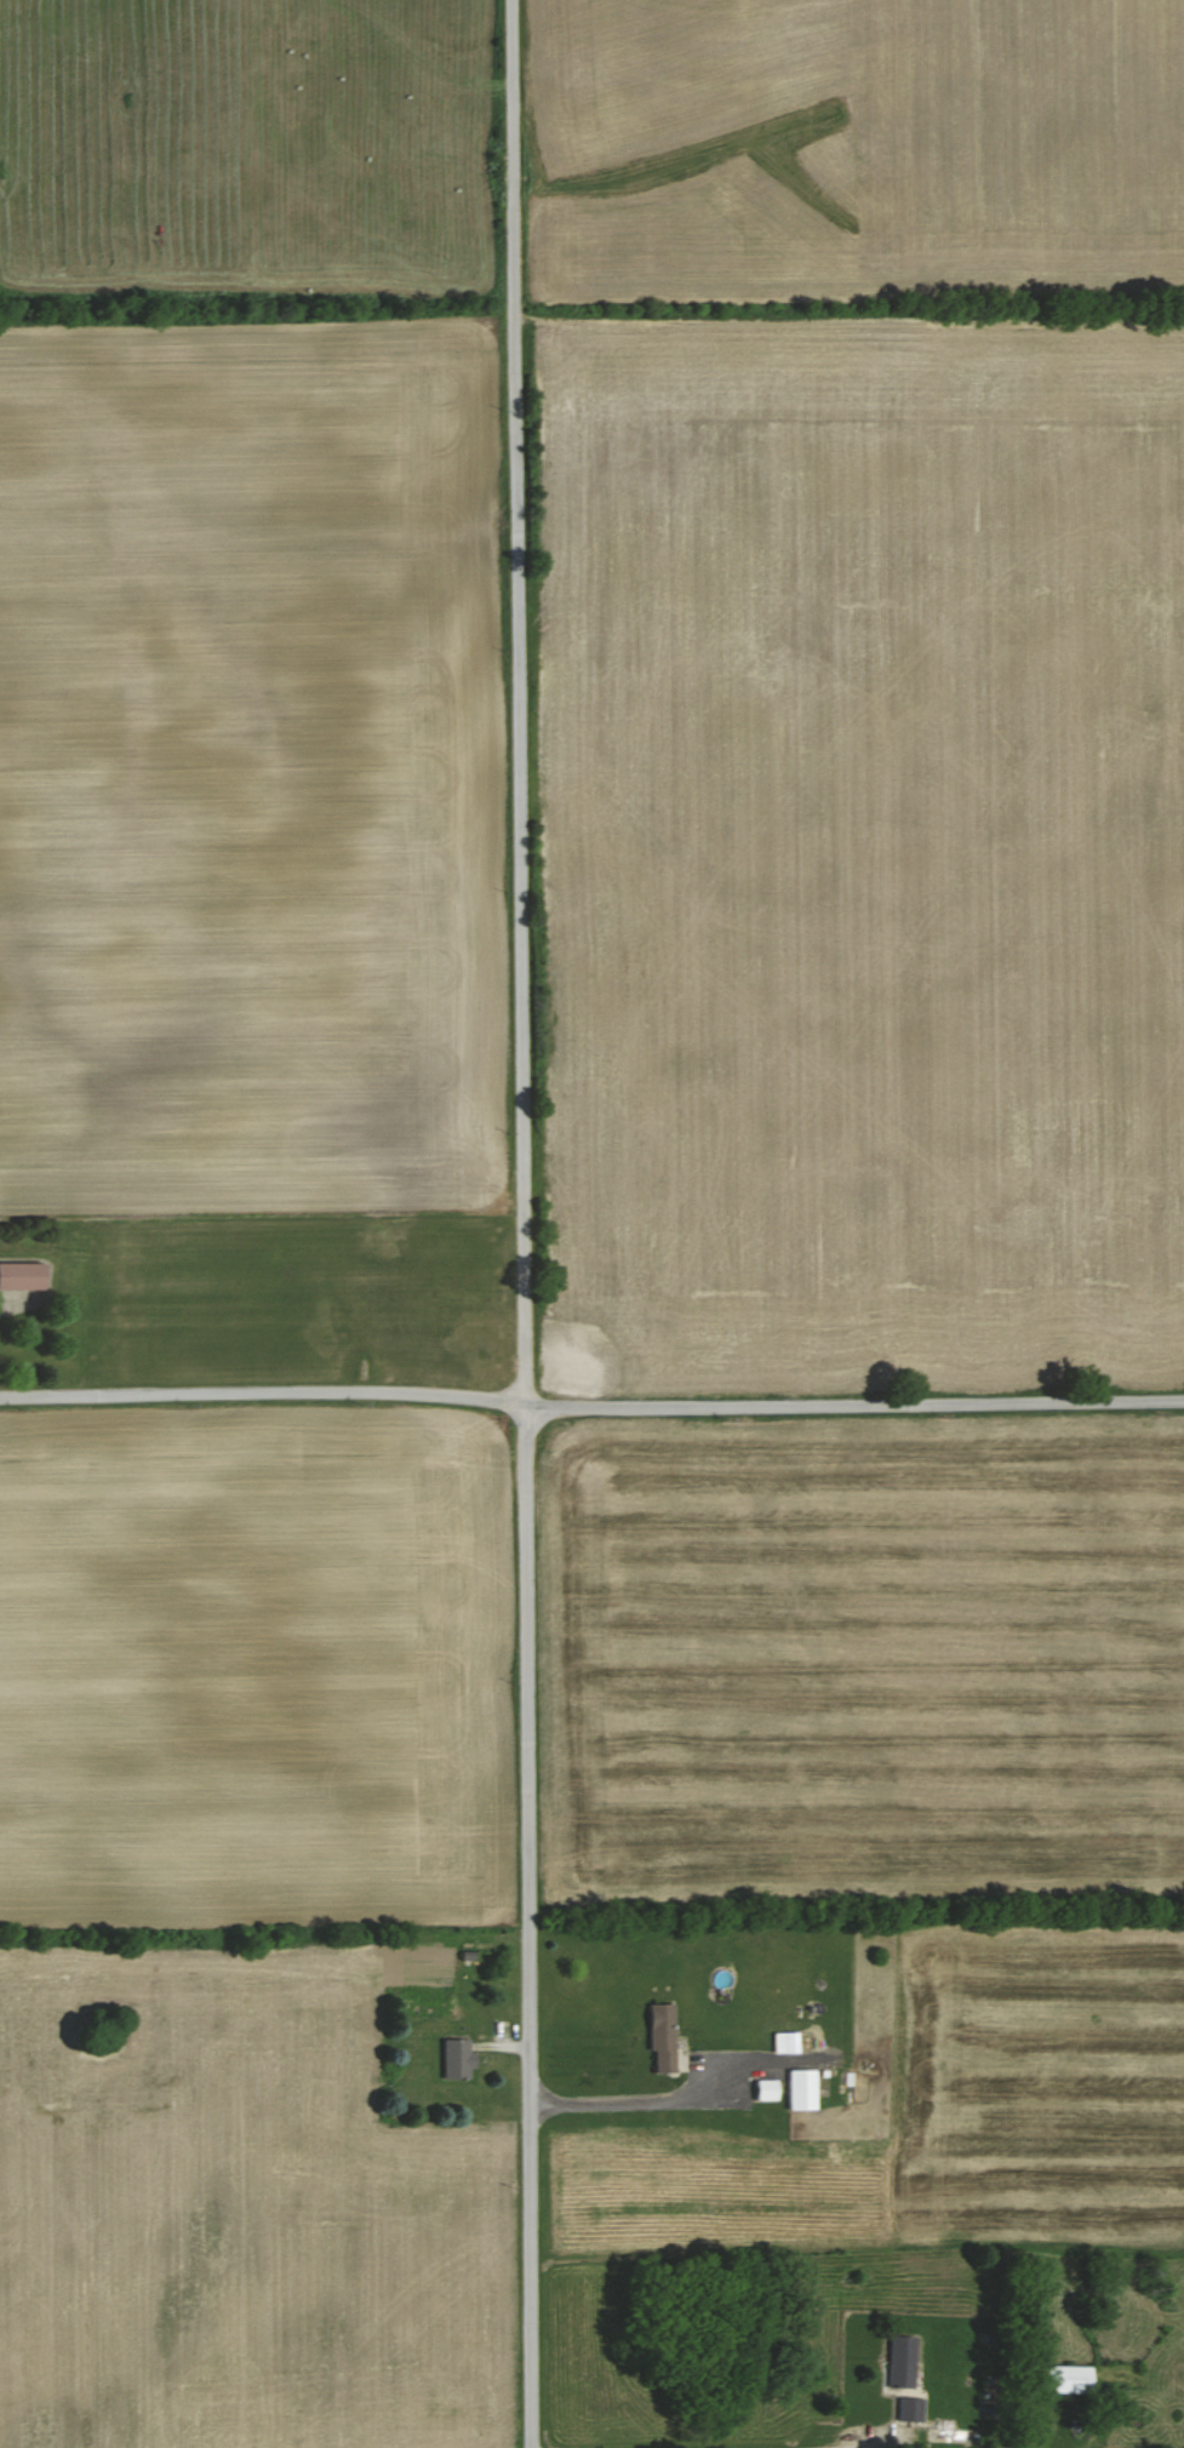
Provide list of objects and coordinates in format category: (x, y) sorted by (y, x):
road: (522, 1223)
building: (23, 1275)
road: (262, 1394)
road: (854, 1406)
building: (1171, 1517)
building: (664, 2038)
building: (788, 2042)
building: (459, 2058)
building: (768, 2089)
building: (803, 2089)
road: (627, 2101)
building: (900, 2376)
building: (1062, 2378)
building: (948, 2433)
road: (837, 2447)

